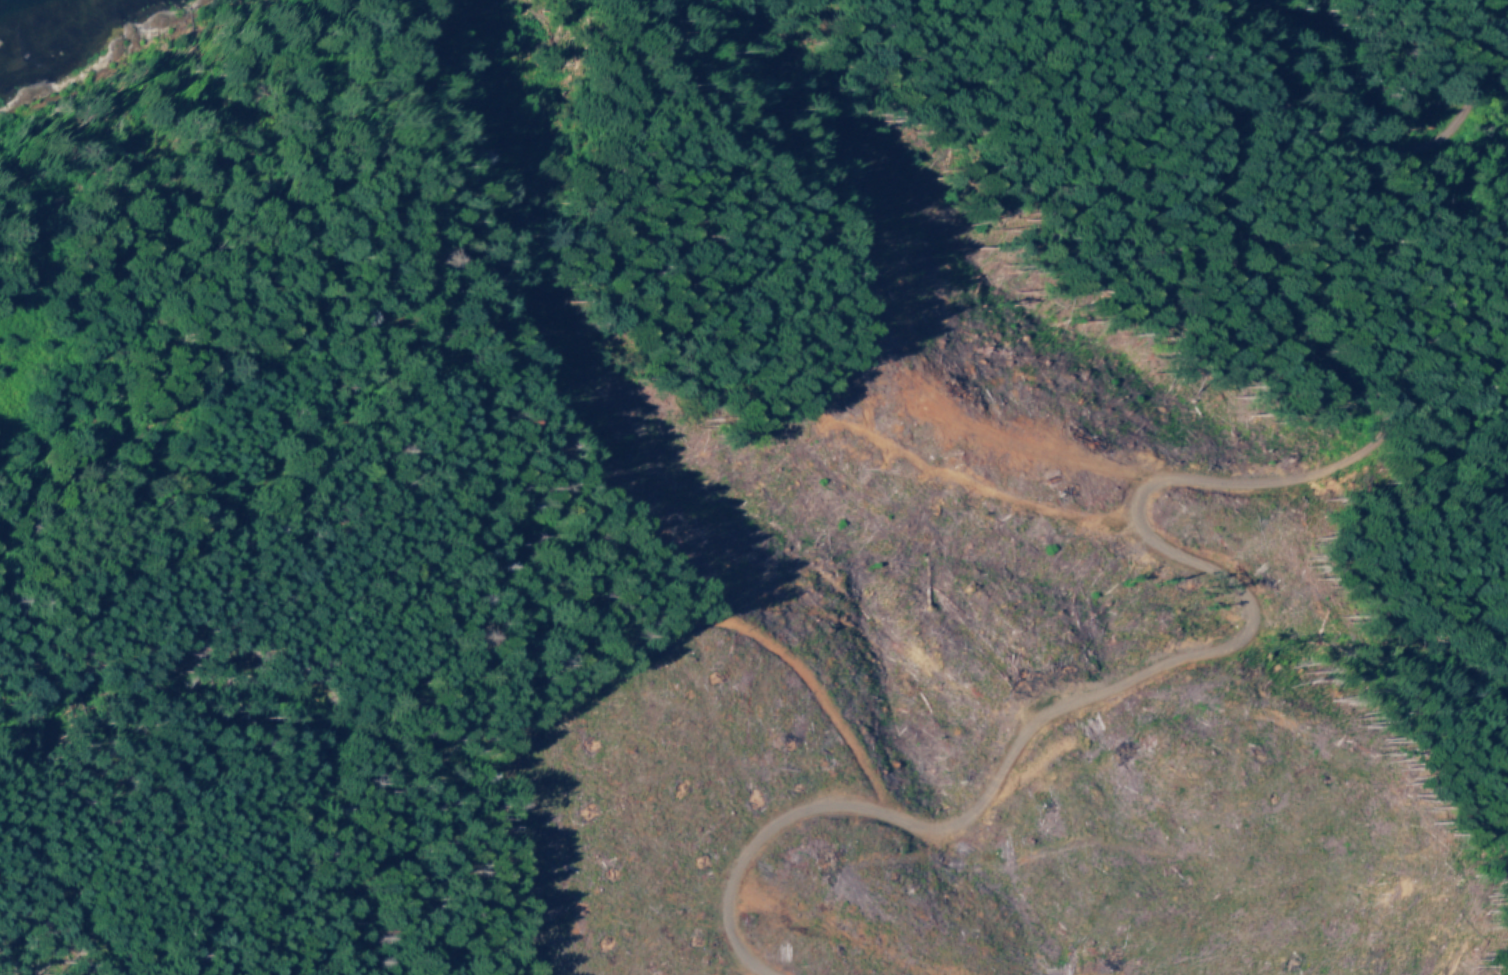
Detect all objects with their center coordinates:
road: (1240, 510)

